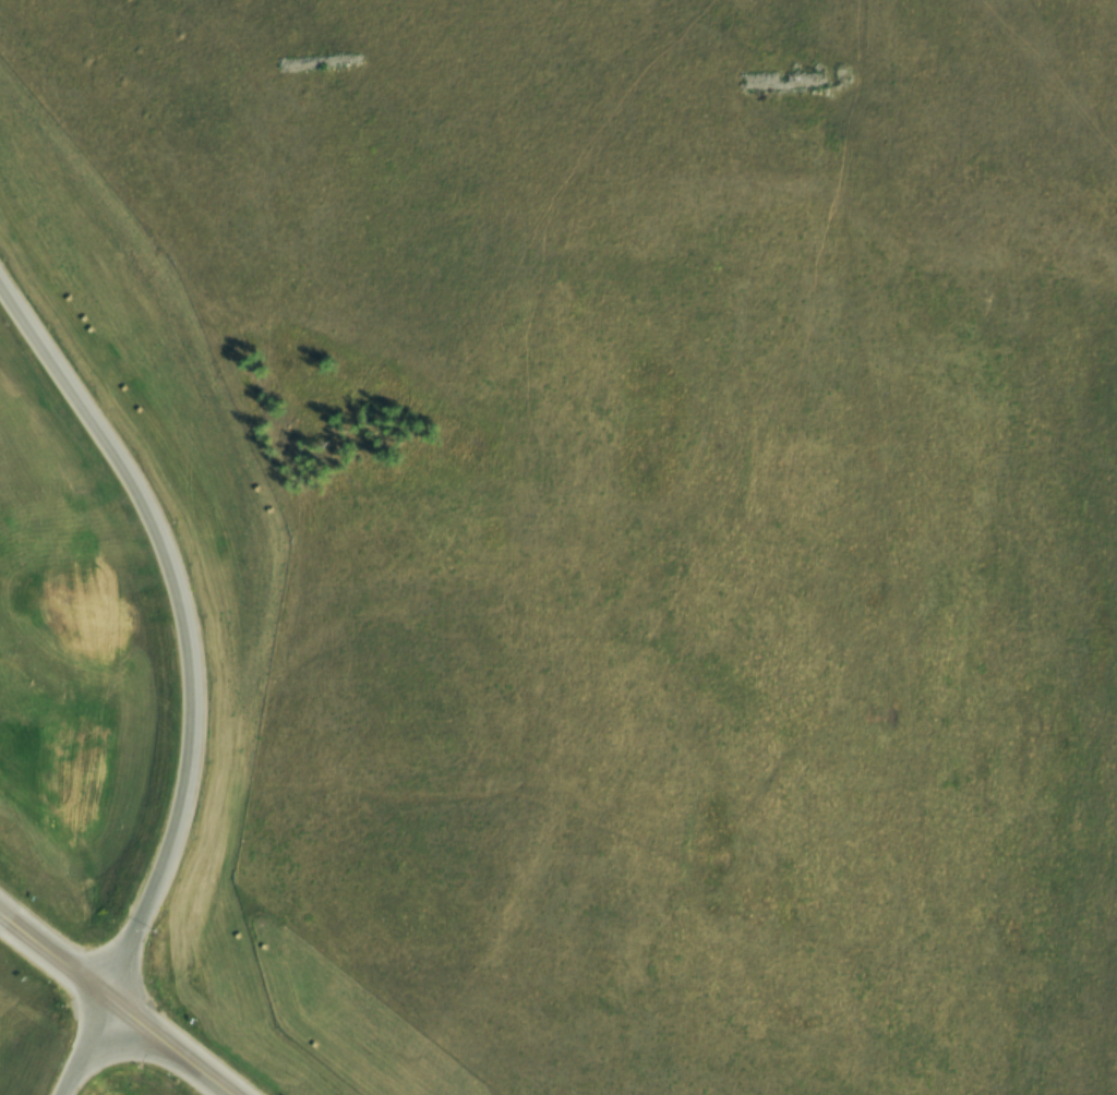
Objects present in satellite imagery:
road: (190, 611)
road: (53, 946)
street lamp: (76, 1003)
road: (84, 1042)
road: (171, 1042)
street lamp: (132, 1060)
street lamp: (179, 1080)

